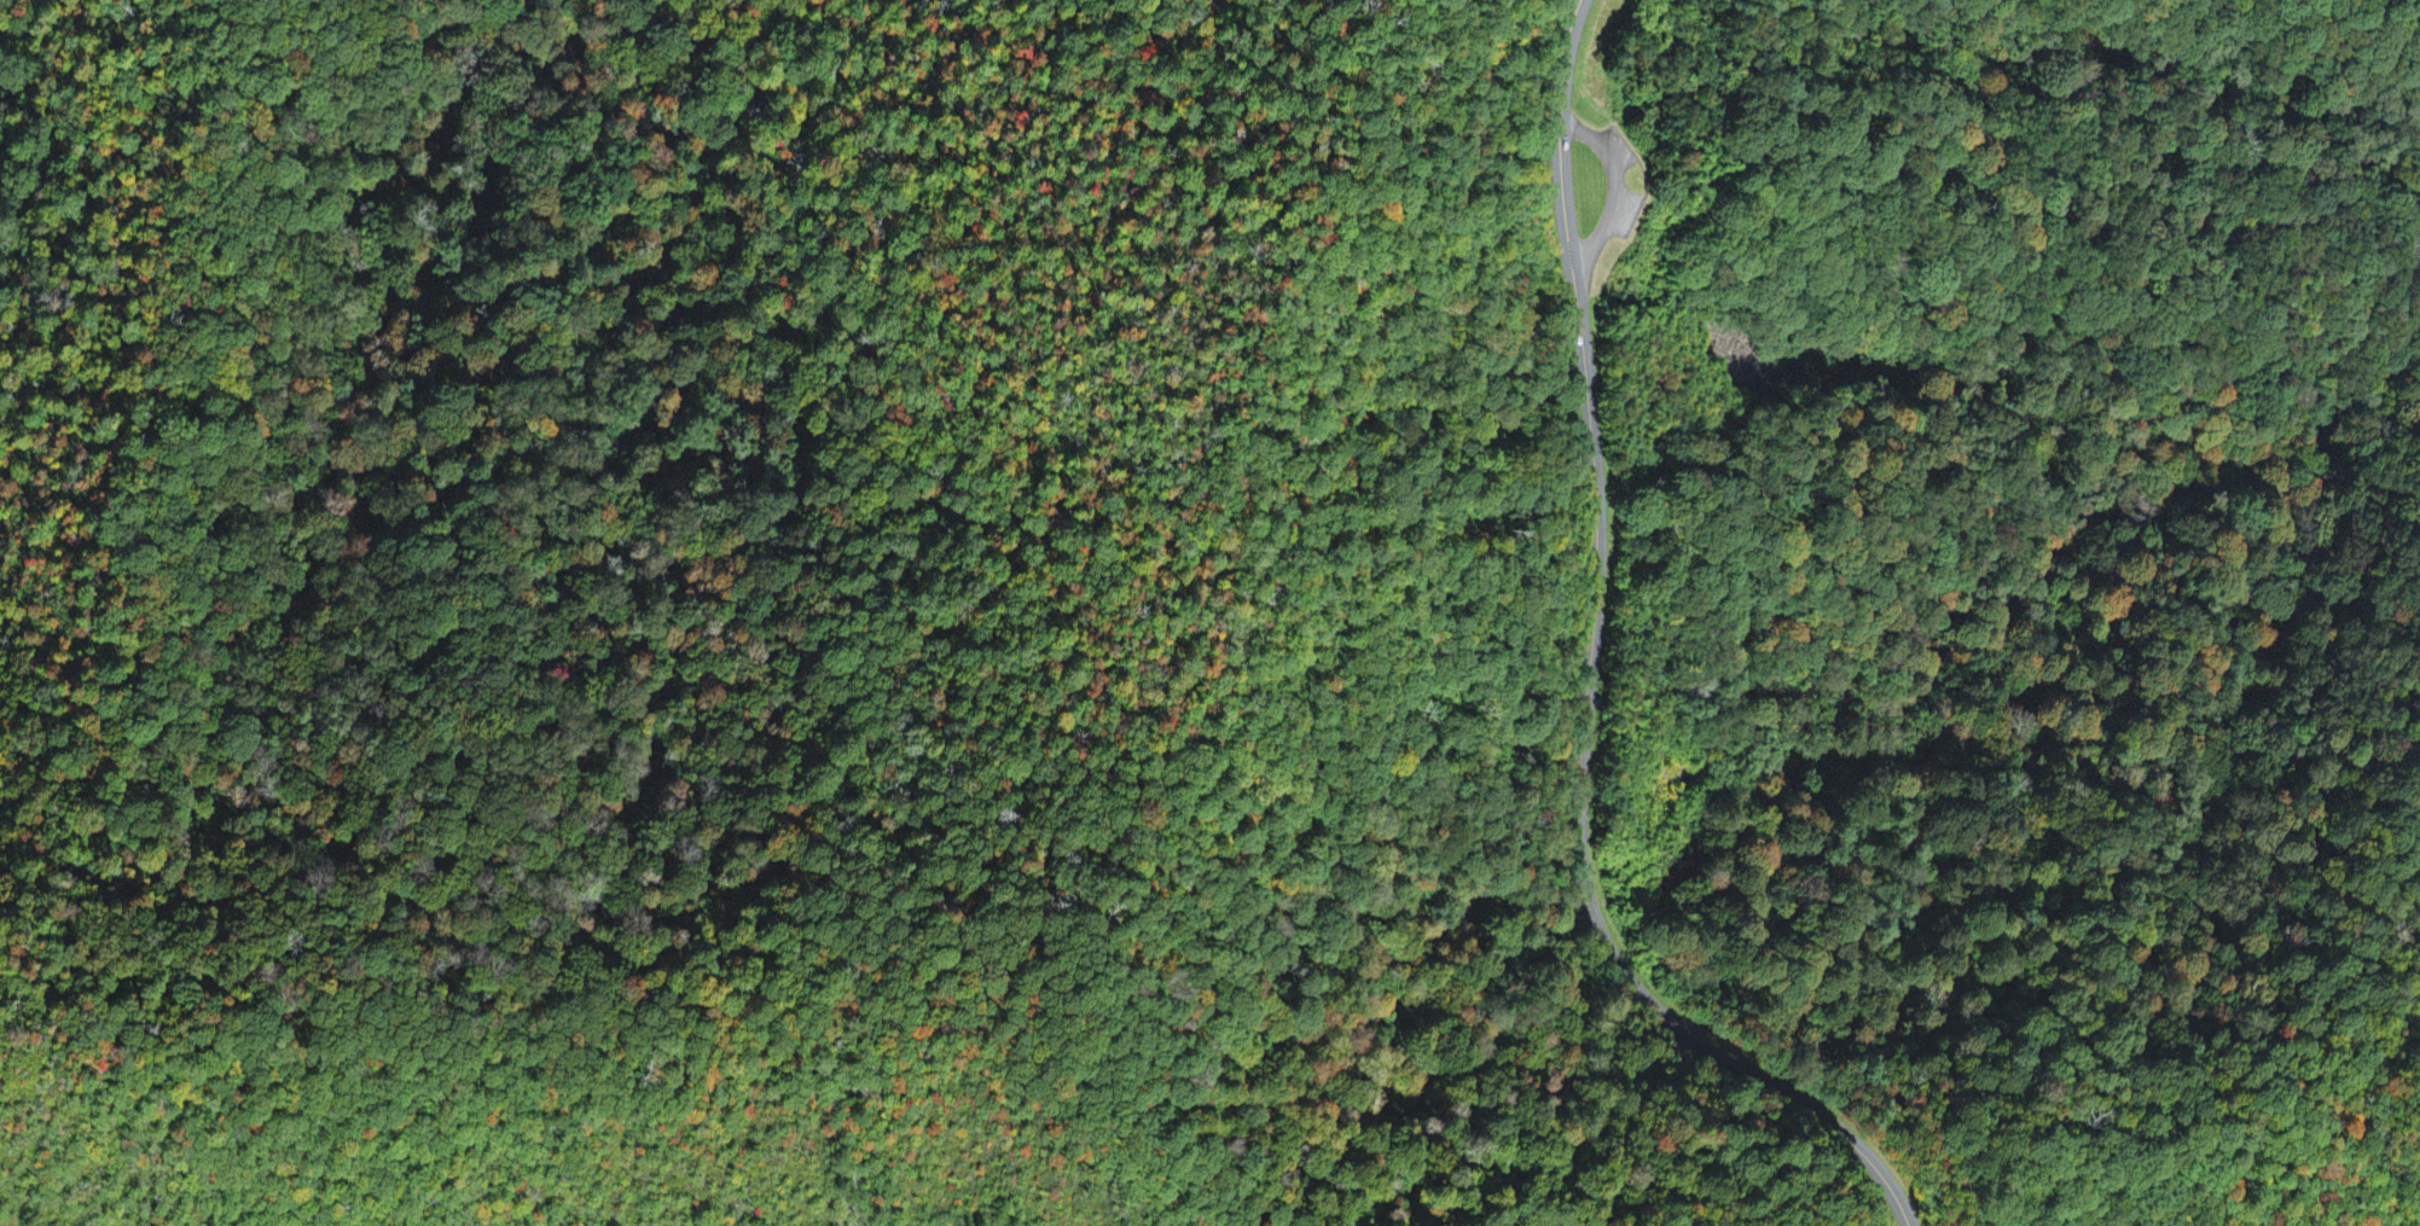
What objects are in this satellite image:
parking lot: (1619, 178)
road: (1619, 184)
road: (1468, 633)
road: (1590, 685)

